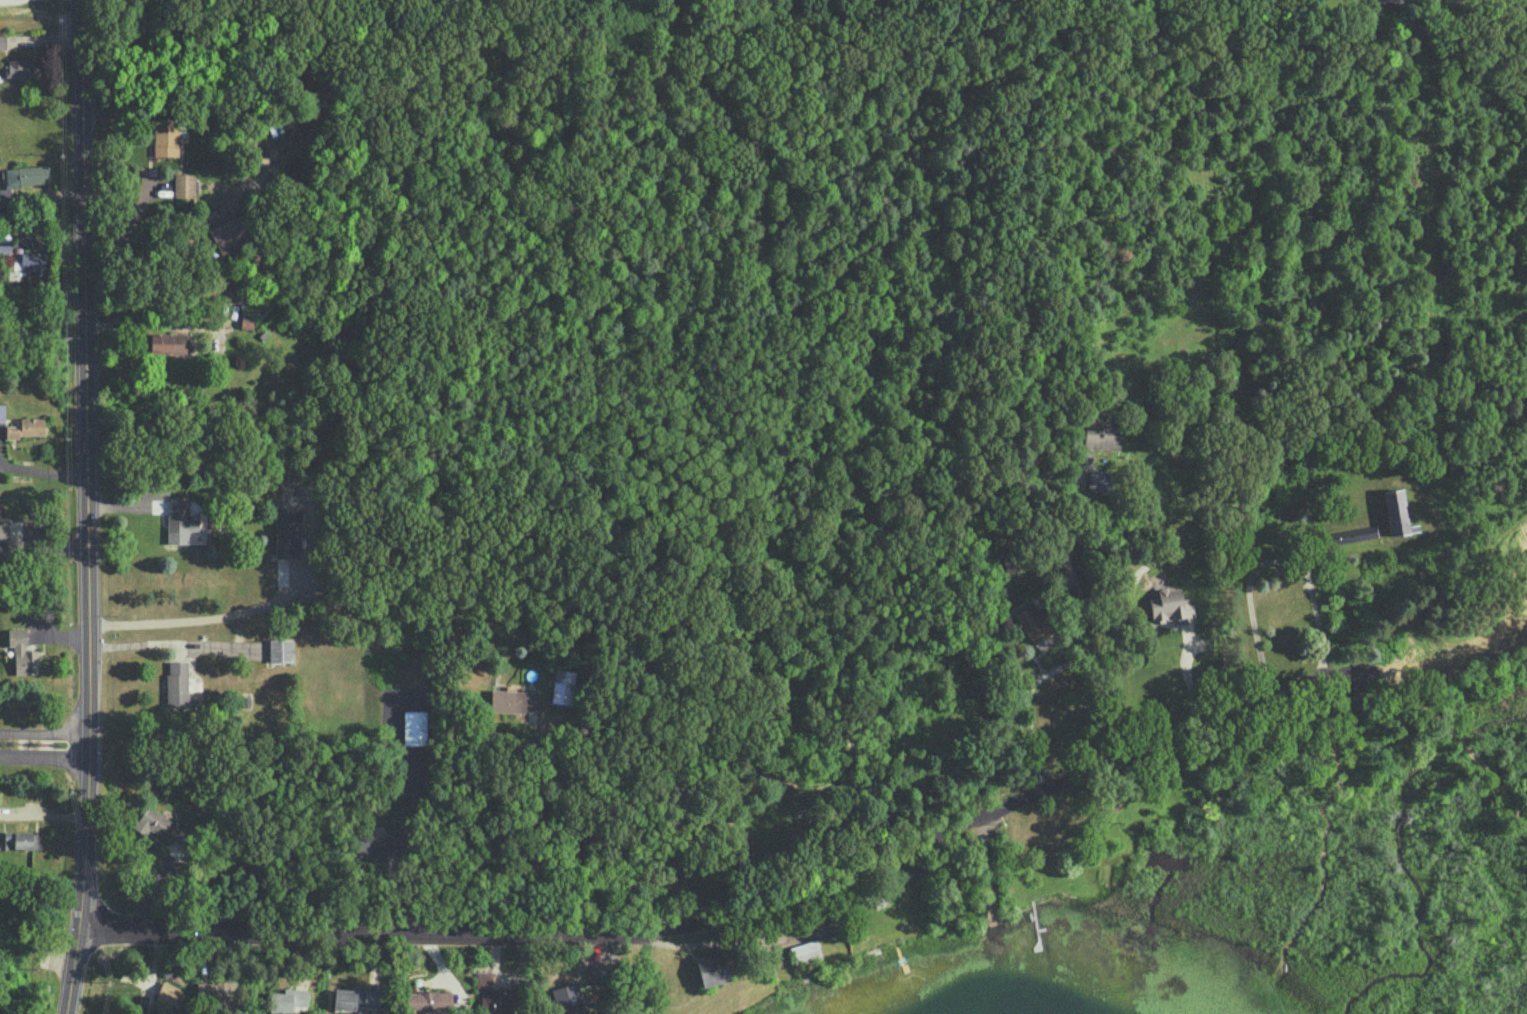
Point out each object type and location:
building: (1389, 1)
building: (2, 41)
building: (22, 66)
building: (165, 136)
building: (22, 178)
building: (183, 184)
road: (131, 224)
building: (230, 234)
road: (42, 237)
building: (31, 262)
building: (227, 293)
road: (150, 323)
building: (168, 342)
building: (2, 412)
building: (26, 427)
building: (1101, 435)
road: (43, 471)
building: (1098, 480)
road: (87, 507)
building: (180, 520)
building: (10, 527)
building: (287, 534)
building: (1351, 534)
road: (1270, 559)
building: (1170, 606)
road: (204, 617)
building: (1035, 625)
building: (280, 649)
building: (22, 654)
road: (1043, 674)
building: (177, 683)
building: (562, 686)
building: (414, 726)
road: (45, 736)
road: (1463, 743)
road: (43, 759)
building: (164, 826)
road: (573, 831)
building: (769, 832)
building: (23, 839)
building: (379, 844)
road: (749, 911)
building: (806, 952)
building: (712, 968)
building: (598, 973)
building: (167, 992)
building: (216, 993)
building: (493, 994)
building: (568, 998)
building: (288, 999)
building: (356, 999)
building: (428, 1002)
building: (162, 1012)

